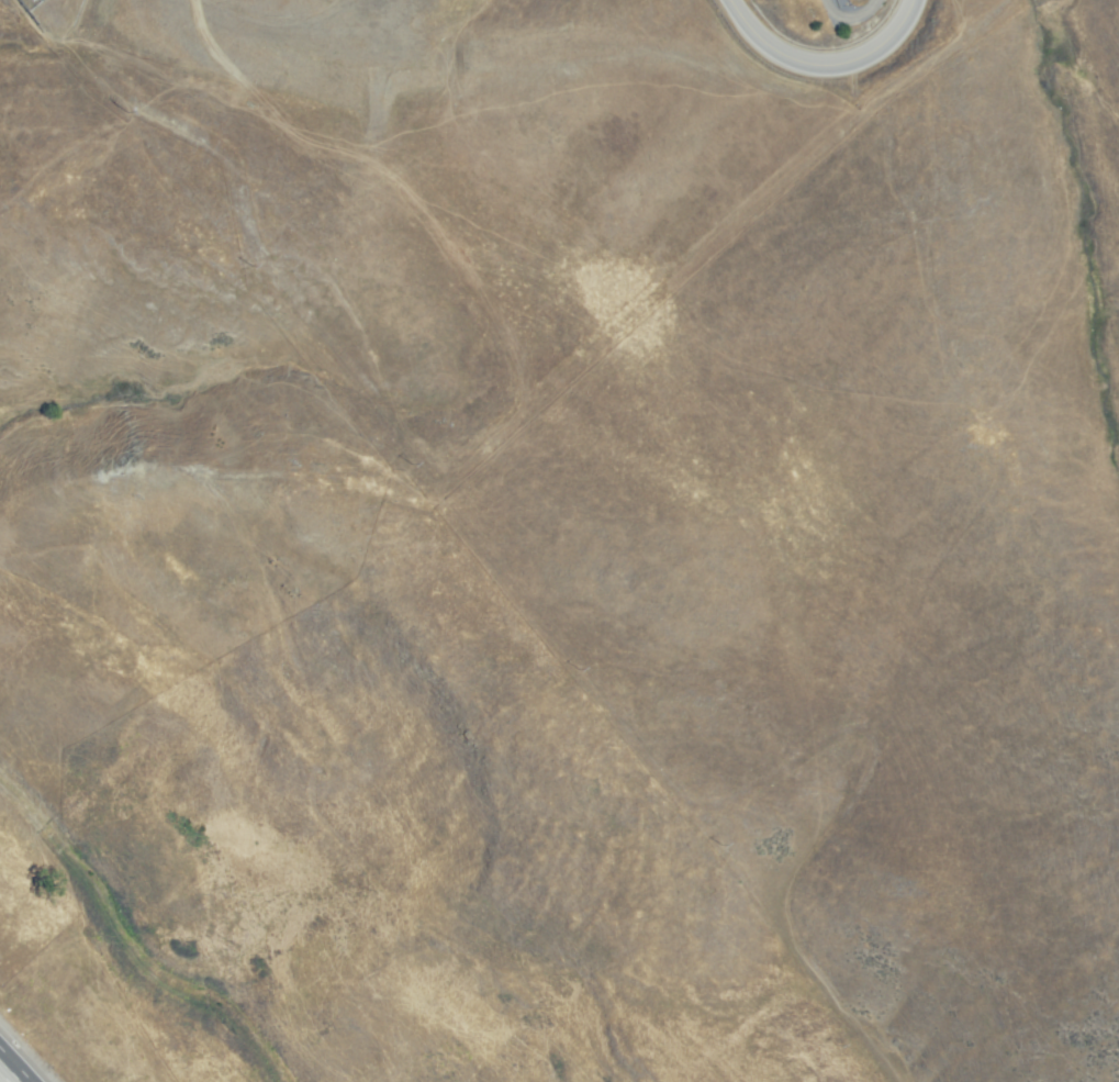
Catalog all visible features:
road: (824, 62)
power tower: (719, 845)
power tower: (837, 1045)
road: (9, 1072)

